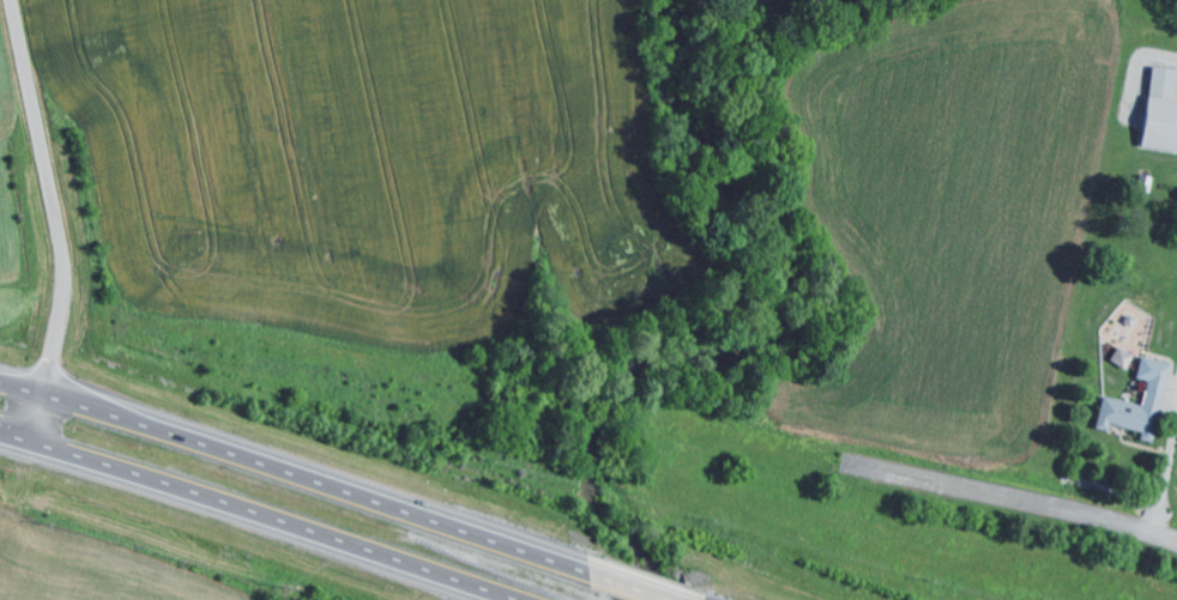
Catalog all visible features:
building: (1163, 115)
road: (54, 223)
river: (756, 334)
building: (1123, 360)
building: (1160, 404)
road: (304, 477)
road: (1015, 501)
road: (253, 517)
road: (635, 589)

